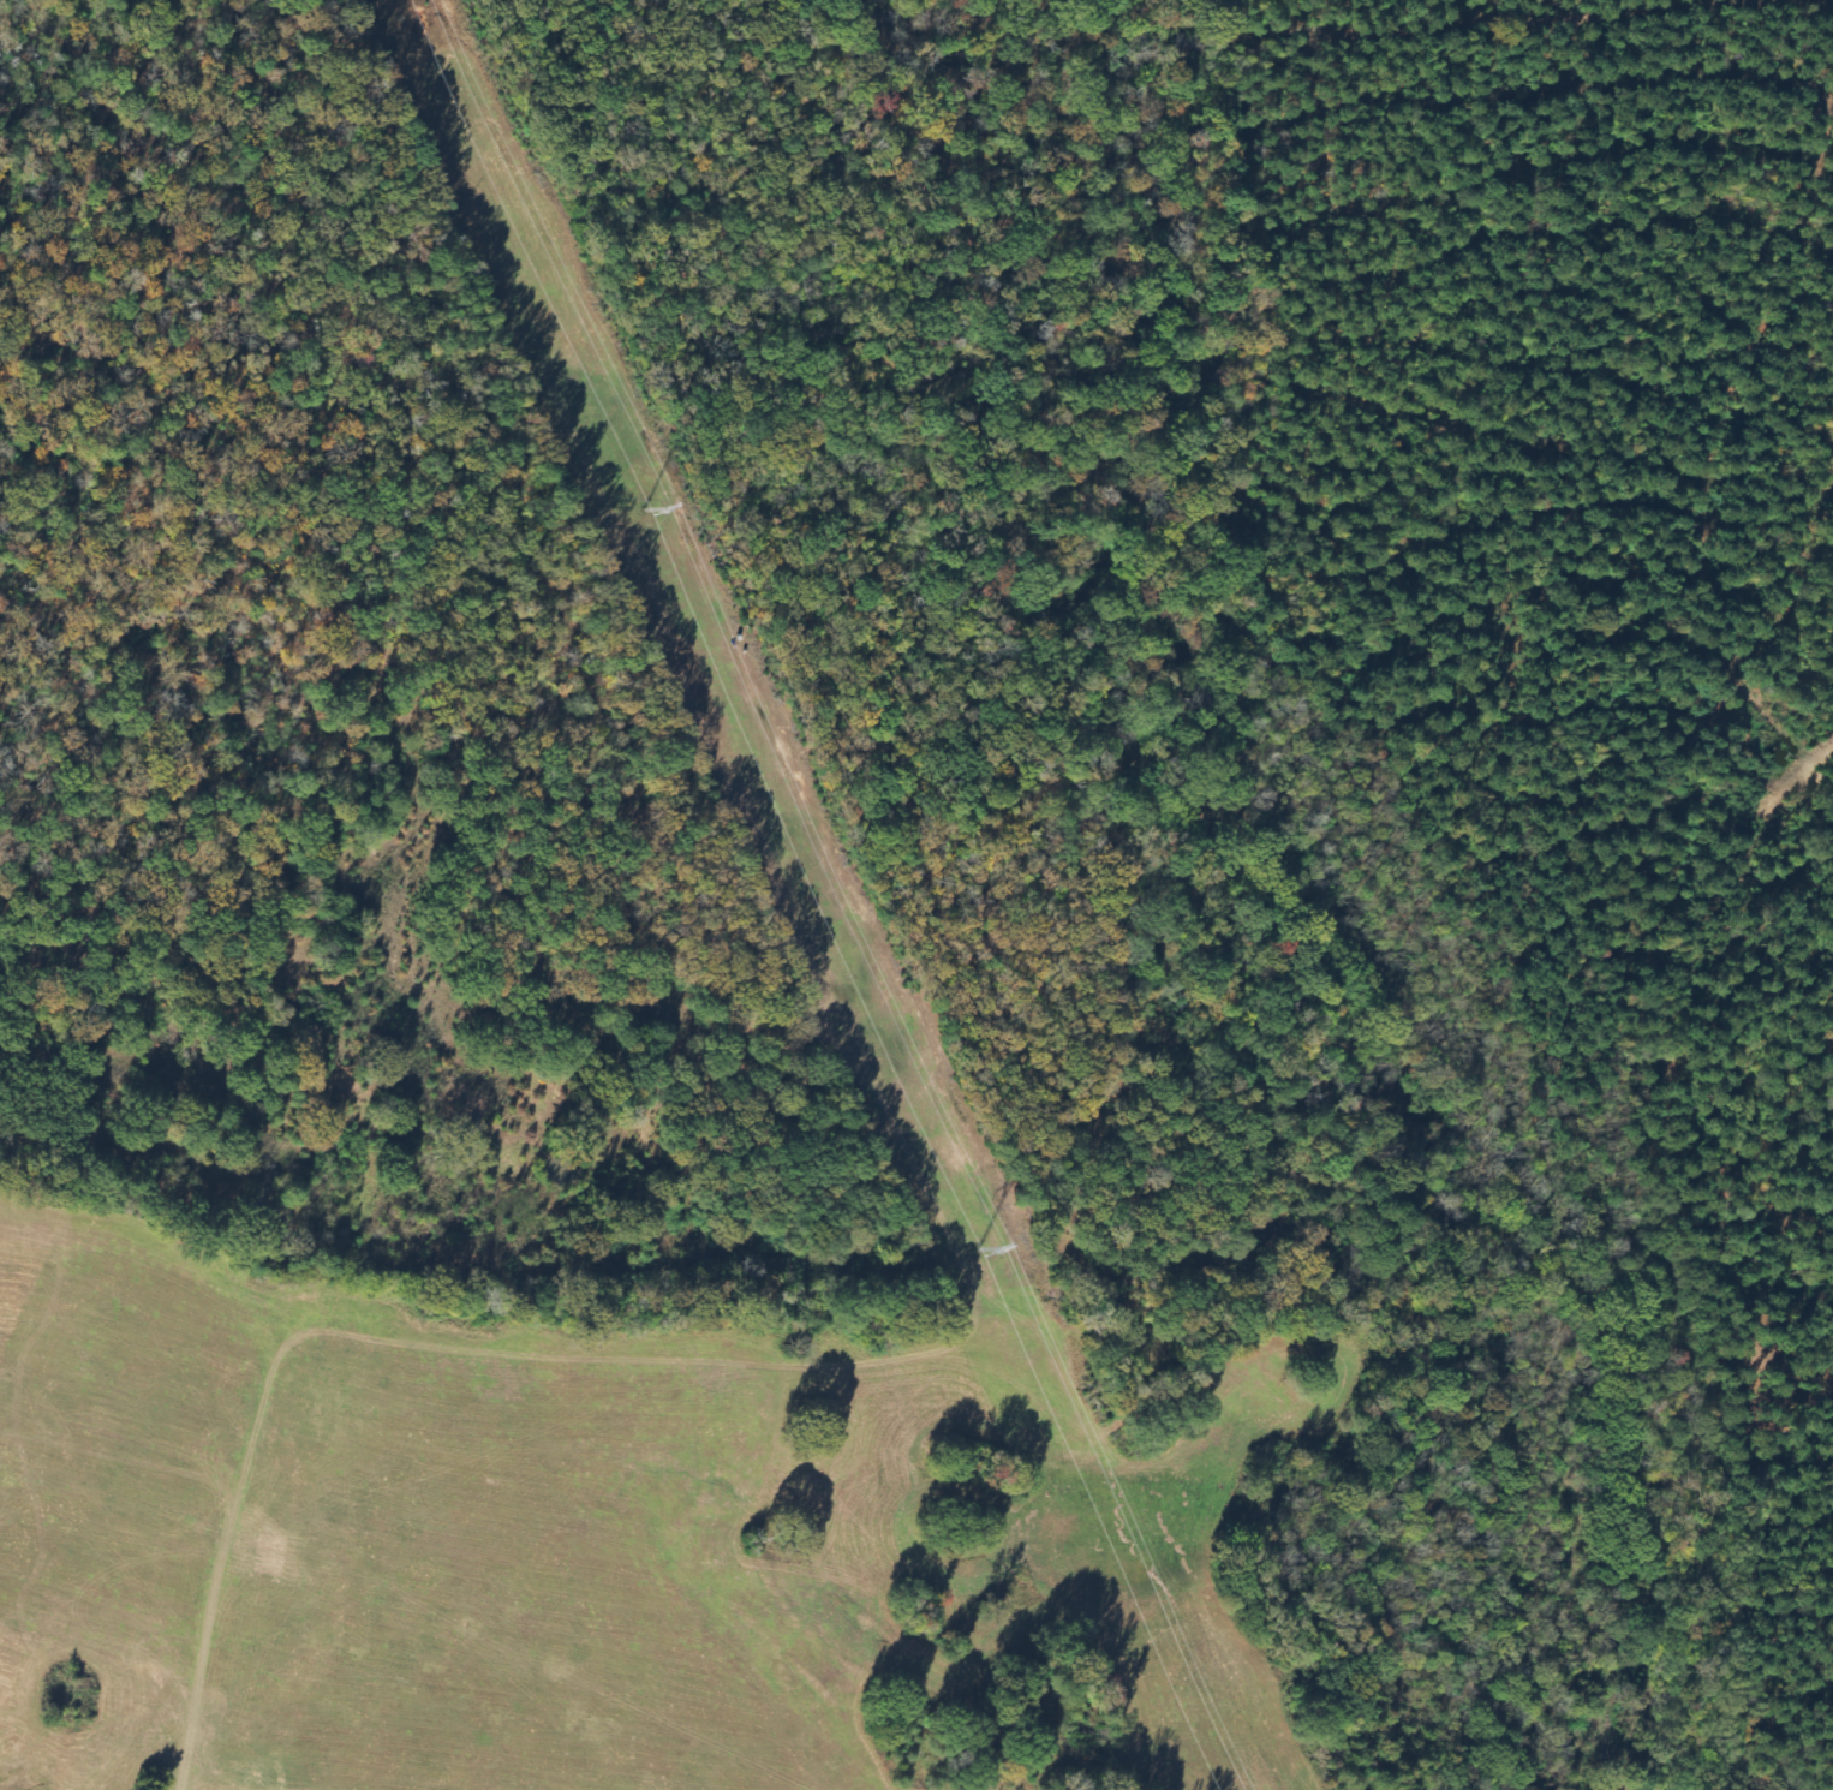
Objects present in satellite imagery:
power tower: (639, 512)
power tower: (973, 1249)

